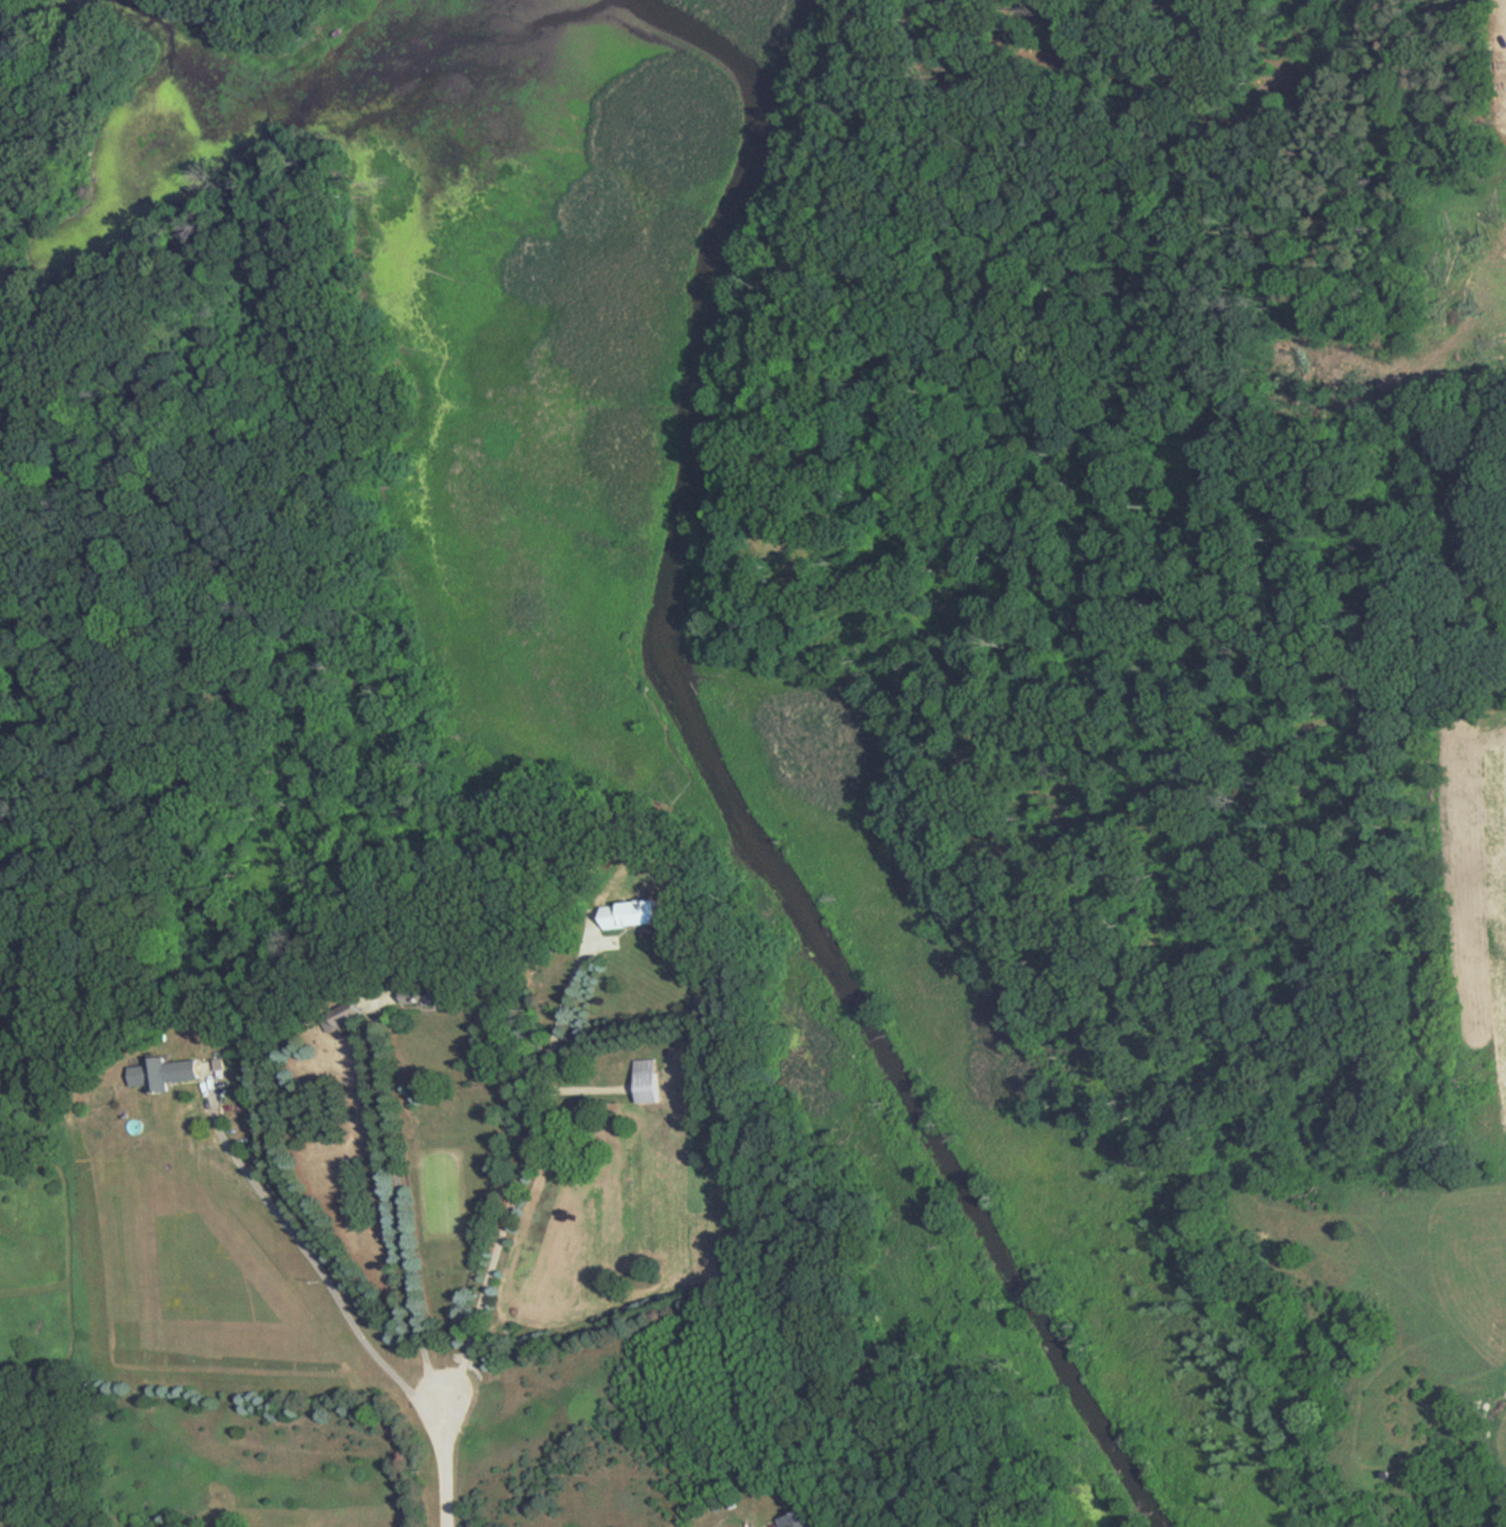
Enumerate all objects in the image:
building: (635, 913)
building: (426, 994)
building: (346, 1015)
building: (155, 1076)
building: (645, 1080)
road: (514, 1171)
road: (400, 1200)
road: (313, 1258)
road: (441, 1458)
road: (733, 1512)
building: (794, 1519)

